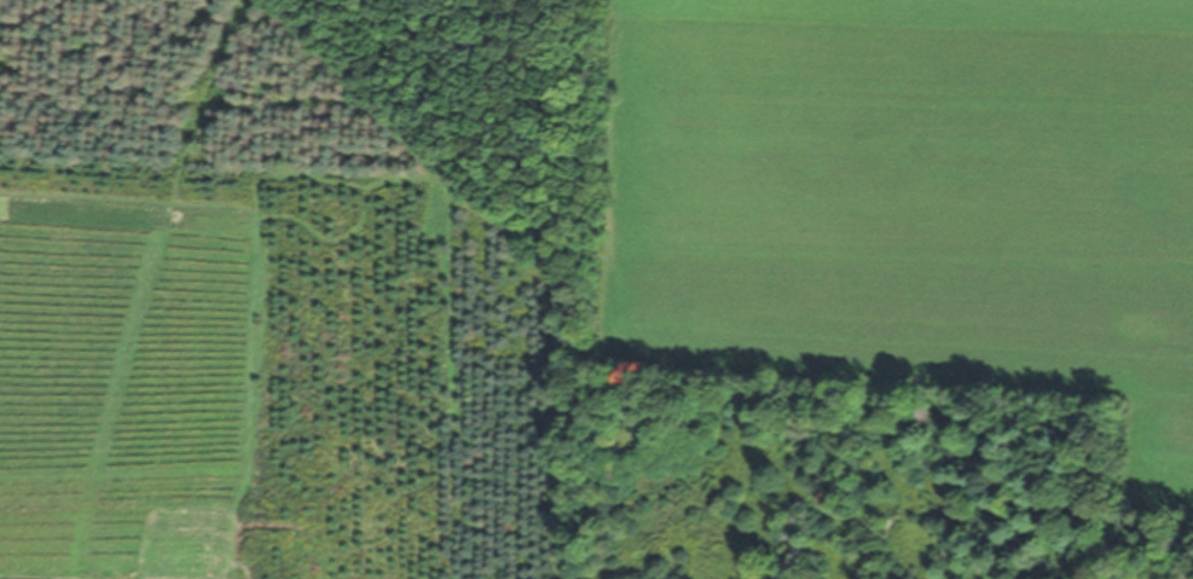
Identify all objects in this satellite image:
crop: (897, 257)

